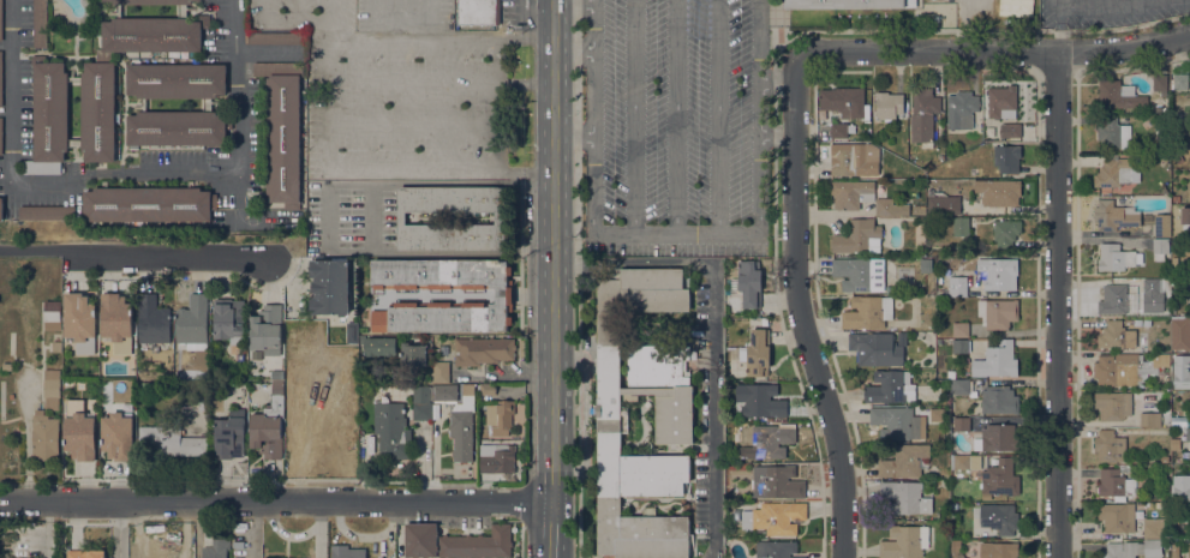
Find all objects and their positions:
building: (151, 1)
road: (580, 1)
road: (1107, 1)
building: (850, 4)
building: (1013, 7)
building: (119, 11)
building: (183, 11)
building: (478, 12)
building: (1, 20)
road: (402, 20)
road: (281, 22)
road: (316, 22)
building: (40, 24)
road: (1058, 26)
road: (441, 36)
building: (275, 38)
road: (596, 47)
road: (995, 50)
building: (1, 78)
road: (441, 78)
building: (74, 79)
building: (177, 80)
building: (1180, 82)
road: (777, 83)
building: (1160, 83)
building: (1119, 96)
building: (1000, 101)
building: (843, 102)
building: (143, 104)
building: (208, 104)
building: (889, 106)
building: (97, 110)
building: (961, 110)
building: (923, 114)
building: (49, 116)
road: (633, 116)
road: (677, 116)
building: (1179, 116)
road: (717, 118)
road: (405, 122)
building: (177, 128)
road: (776, 128)
building: (282, 130)
building: (839, 131)
building: (1012, 131)
building: (1113, 134)
building: (1, 136)
building: (987, 136)
road: (573, 139)
building: (74, 143)
building: (1006, 158)
building: (844, 160)
building: (1178, 160)
road: (353, 170)
building: (974, 172)
road: (114, 173)
building: (1113, 173)
building: (999, 192)
building: (851, 194)
building: (1176, 199)
building: (149, 204)
building: (946, 206)
building: (890, 208)
building: (1, 209)
building: (47, 212)
building: (1113, 216)
building: (502, 218)
road: (372, 220)
building: (962, 226)
building: (1161, 226)
building: (1006, 233)
road: (702, 234)
building: (859, 238)
building: (1160, 248)
road: (551, 250)
road: (139, 256)
building: (1114, 258)
road: (633, 263)
building: (926, 264)
building: (1173, 268)
building: (860, 274)
building: (997, 274)
building: (1172, 282)
building: (747, 283)
building: (1150, 286)
building: (1162, 286)
building: (1189, 286)
building: (329, 287)
building: (958, 287)
building: (890, 288)
building: (940, 293)
building: (441, 295)
building: (1114, 300)
road: (1058, 305)
road: (800, 307)
building: (868, 313)
building: (998, 313)
building: (53, 316)
building: (115, 317)
building: (153, 320)
building: (228, 320)
building: (79, 322)
building: (765, 322)
building: (192, 323)
building: (267, 330)
building: (961, 330)
building: (352, 332)
building: (1180, 332)
building: (310, 335)
building: (1114, 336)
building: (961, 346)
building: (56, 347)
building: (378, 347)
building: (875, 349)
building: (483, 350)
building: (757, 353)
building: (413, 354)
building: (240, 356)
building: (997, 361)
building: (351, 364)
building: (7, 367)
building: (1125, 368)
building: (441, 372)
building: (1180, 372)
building: (951, 374)
building: (961, 386)
building: (890, 388)
building: (52, 389)
building: (486, 389)
building: (445, 392)
building: (316, 395)
building: (999, 400)
building: (761, 402)
building: (421, 403)
building: (1113, 406)
building: (202, 408)
road: (711, 409)
building: (674, 410)
building: (935, 414)
building: (503, 418)
building: (1149, 419)
building: (895, 422)
building: (962, 422)
building: (269, 426)
building: (462, 428)
building: (80, 431)
building: (391, 431)
building: (1184, 432)
building: (118, 436)
building: (44, 437)
building: (995, 438)
building: (228, 439)
building: (770, 440)
building: (171, 442)
building: (1110, 446)
building: (497, 458)
building: (1165, 458)
building: (905, 461)
building: (965, 462)
building: (989, 462)
building: (999, 479)
building: (777, 482)
building: (1116, 484)
building: (731, 490)
building: (1180, 493)
building: (904, 498)
road: (275, 500)
building: (953, 505)
building: (775, 517)
building: (1117, 517)
building: (998, 518)
road: (118, 529)
road: (256, 529)
road: (321, 529)
road: (551, 529)
building: (1153, 529)
building: (1179, 529)
building: (455, 542)
building: (904, 542)
building: (955, 544)
building: (1154, 547)
building: (216, 548)
building: (776, 548)
building: (998, 550)
building: (1120, 550)
building: (1189, 550)
building: (1174, 551)
building: (346, 552)
building: (85, 553)

